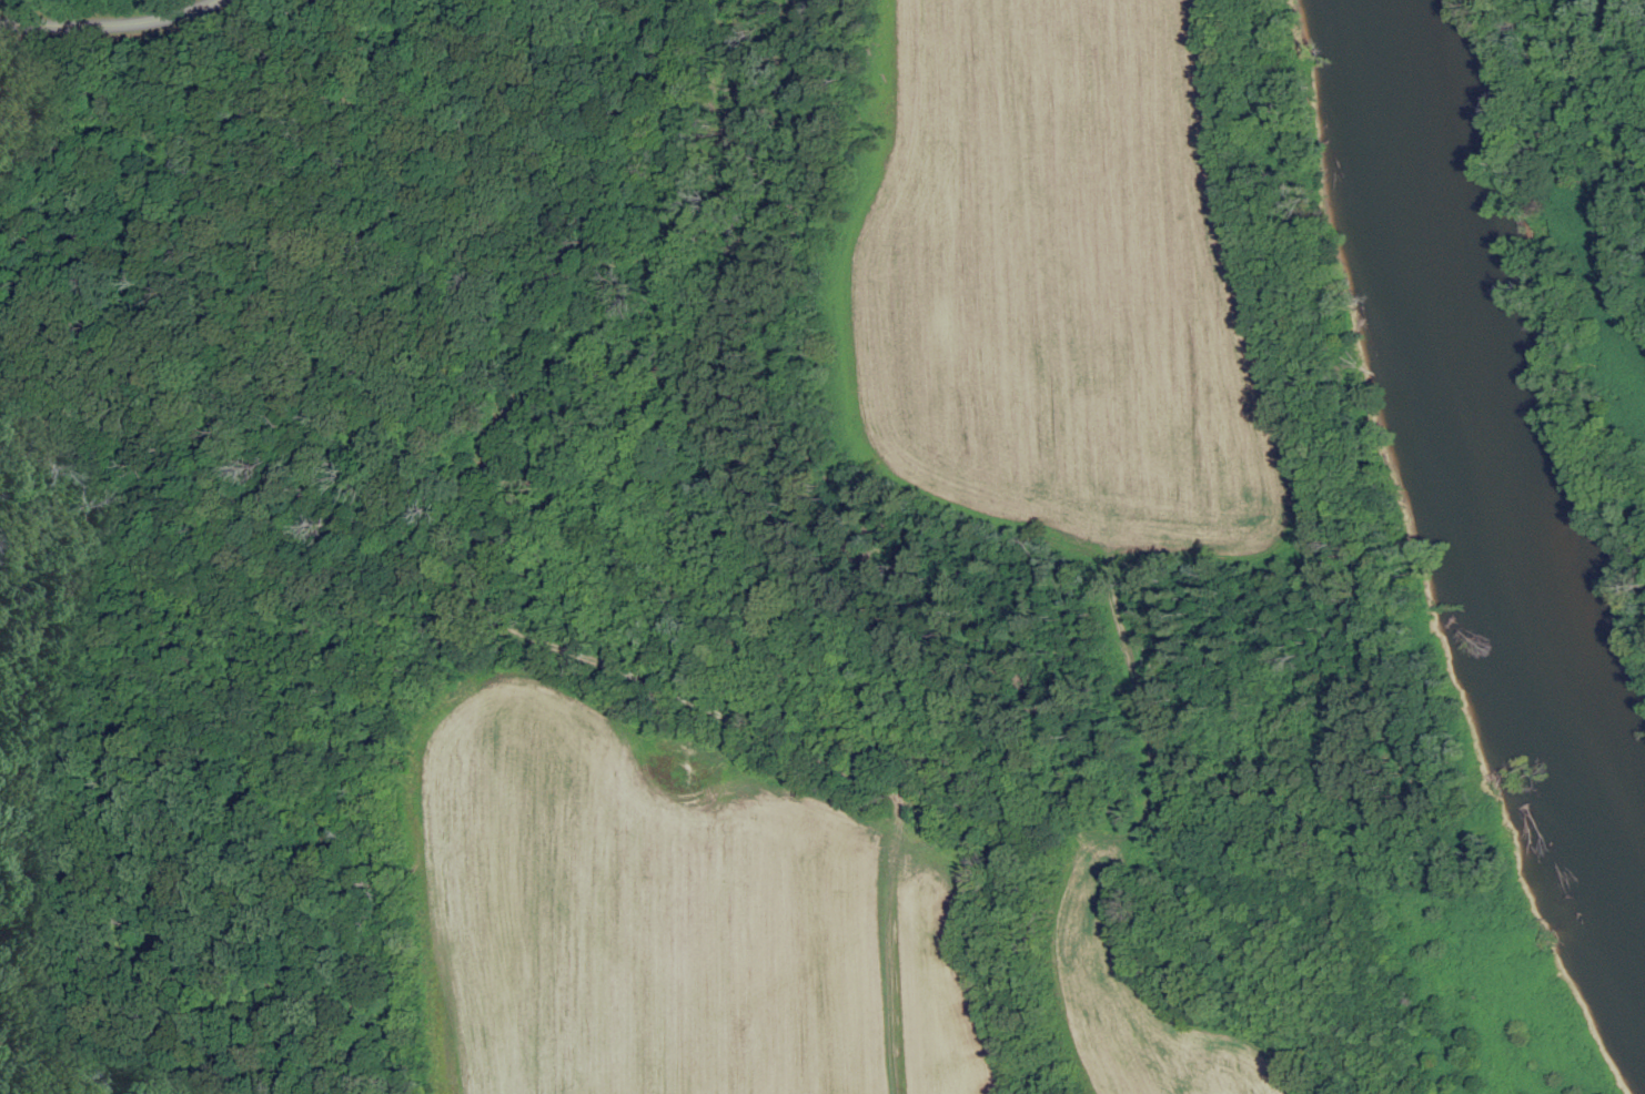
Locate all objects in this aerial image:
road: (104, 21)
river: (1482, 462)
road: (460, 563)

